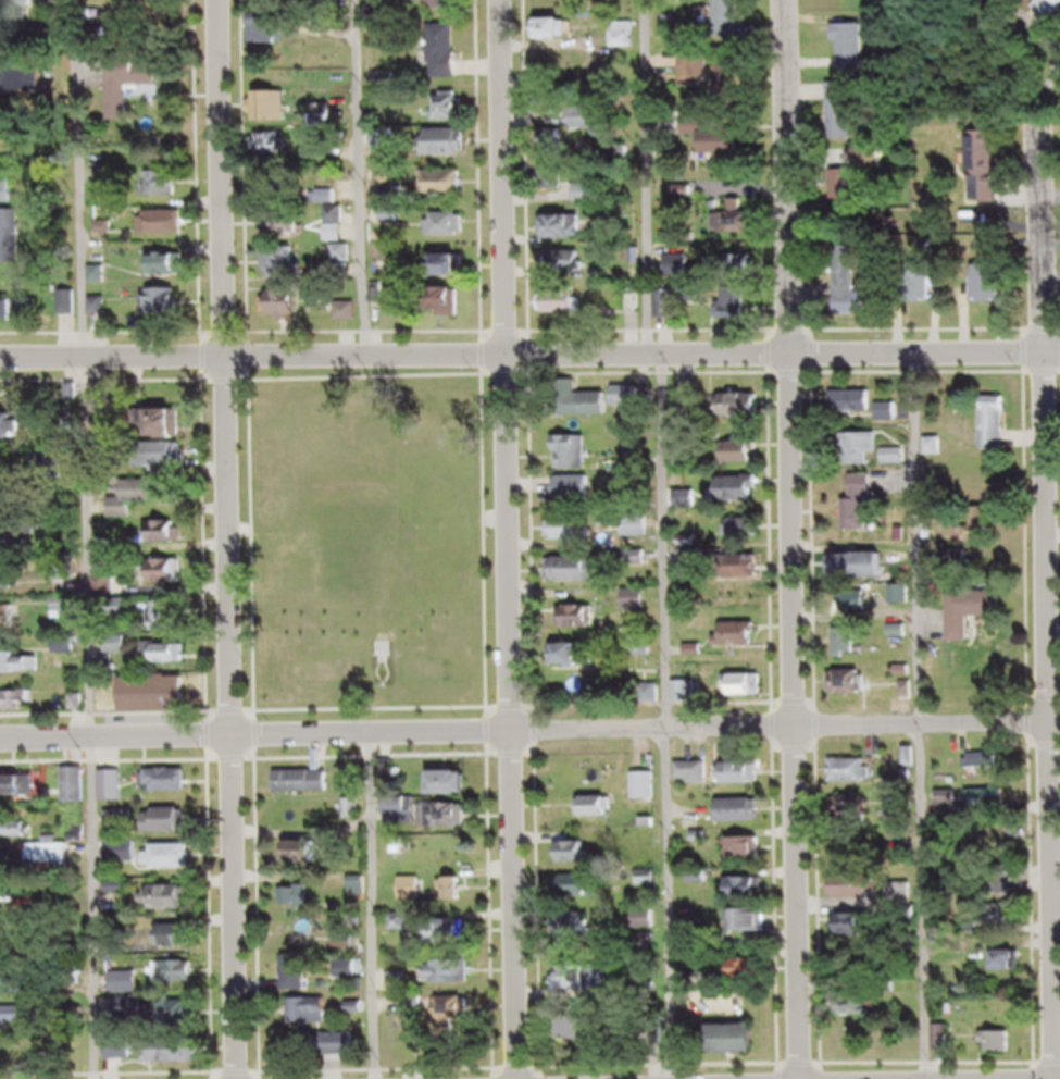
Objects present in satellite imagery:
building: (849, 0)
building: (276, 1)
building: (444, 8)
building: (1052, 13)
building: (20, 25)
building: (729, 27)
building: (267, 37)
building: (557, 37)
building: (623, 44)
building: (855, 53)
building: (447, 60)
building: (27, 89)
building: (137, 90)
building: (729, 91)
building: (269, 115)
building: (451, 115)
building: (844, 120)
building: (587, 127)
building: (719, 140)
building: (452, 150)
building: (556, 152)
building: (274, 153)
building: (8, 157)
building: (623, 160)
building: (989, 176)
road: (361, 183)
building: (856, 183)
building: (556, 187)
building: (275, 190)
building: (447, 191)
building: (166, 193)
building: (8, 200)
building: (587, 202)
building: (395, 226)
building: (737, 231)
building: (165, 232)
building: (280, 232)
building: (448, 234)
building: (564, 236)
building: (11, 246)
building: (345, 268)
building: (570, 271)
building: (283, 272)
building: (172, 273)
building: (743, 273)
building: (454, 274)
building: (679, 275)
building: (99, 284)
building: (989, 293)
building: (849, 295)
building: (70, 311)
building: (450, 311)
building: (561, 311)
building: (633, 311)
building: (734, 311)
building: (288, 312)
building: (164, 313)
building: (670, 313)
building: (100, 314)
building: (12, 320)
building: (349, 321)
road: (529, 365)
building: (632, 383)
building: (582, 392)
building: (631, 406)
building: (103, 407)
building: (855, 411)
building: (588, 412)
building: (745, 414)
building: (688, 420)
building: (889, 420)
building: (166, 432)
building: (997, 432)
building: (11, 435)
building: (636, 451)
building: (937, 455)
building: (865, 457)
building: (574, 461)
building: (743, 461)
building: (170, 462)
building: (900, 464)
building: (740, 498)
building: (134, 506)
building: (11, 509)
building: (865, 513)
building: (983, 533)
building: (639, 534)
road: (86, 538)
building: (572, 538)
building: (751, 538)
road: (225, 539)
road: (507, 539)
road: (659, 539)
road: (789, 539)
building: (167, 541)
building: (361, 559)
building: (639, 568)
building: (863, 573)
building: (752, 574)
building: (577, 579)
building: (167, 581)
building: (10, 588)
building: (105, 596)
road: (1048, 601)
building: (905, 604)
building: (638, 609)
building: (859, 610)
building: (975, 620)
building: (586, 623)
building: (10, 625)
building: (170, 625)
building: (743, 643)
building: (849, 652)
building: (66, 654)
building: (166, 662)
building: (576, 663)
building: (23, 672)
building: (851, 692)
building: (748, 695)
building: (688, 700)
building: (157, 703)
building: (17, 709)
road: (920, 721)
road: (529, 736)
building: (910, 767)
building: (986, 770)
building: (856, 780)
building: (696, 781)
building: (744, 782)
building: (169, 790)
building: (304, 791)
building: (457, 792)
building: (23, 793)
building: (77, 794)
building: (114, 794)
building: (648, 794)
building: (992, 808)
building: (597, 815)
building: (403, 819)
building: (745, 819)
building: (859, 819)
building: (446, 824)
building: (121, 828)
building: (171, 828)
building: (14, 838)
building: (886, 853)
building: (749, 858)
building: (124, 859)
building: (307, 860)
building: (577, 861)
building: (51, 865)
building: (170, 865)
building: (581, 894)
building: (856, 895)
building: (752, 897)
building: (459, 898)
building: (1005, 900)
building: (297, 905)
building: (174, 907)
road: (373, 909)
building: (1009, 925)
building: (647, 929)
building: (756, 930)
building: (857, 934)
building: (294, 941)
building: (452, 941)
building: (8, 946)
building: (178, 946)
building: (647, 950)
building: (1011, 970)
building: (350, 978)
building: (753, 978)
building: (176, 981)
building: (299, 982)
building: (457, 982)
building: (12, 989)
building: (579, 990)
building: (129, 992)
building: (864, 1016)
building: (312, 1020)
building: (178, 1021)
building: (14, 1024)
building: (461, 1029)
building: (581, 1039)
building: (739, 1049)
building: (1000, 1050)
building: (334, 1053)
building: (179, 1059)

